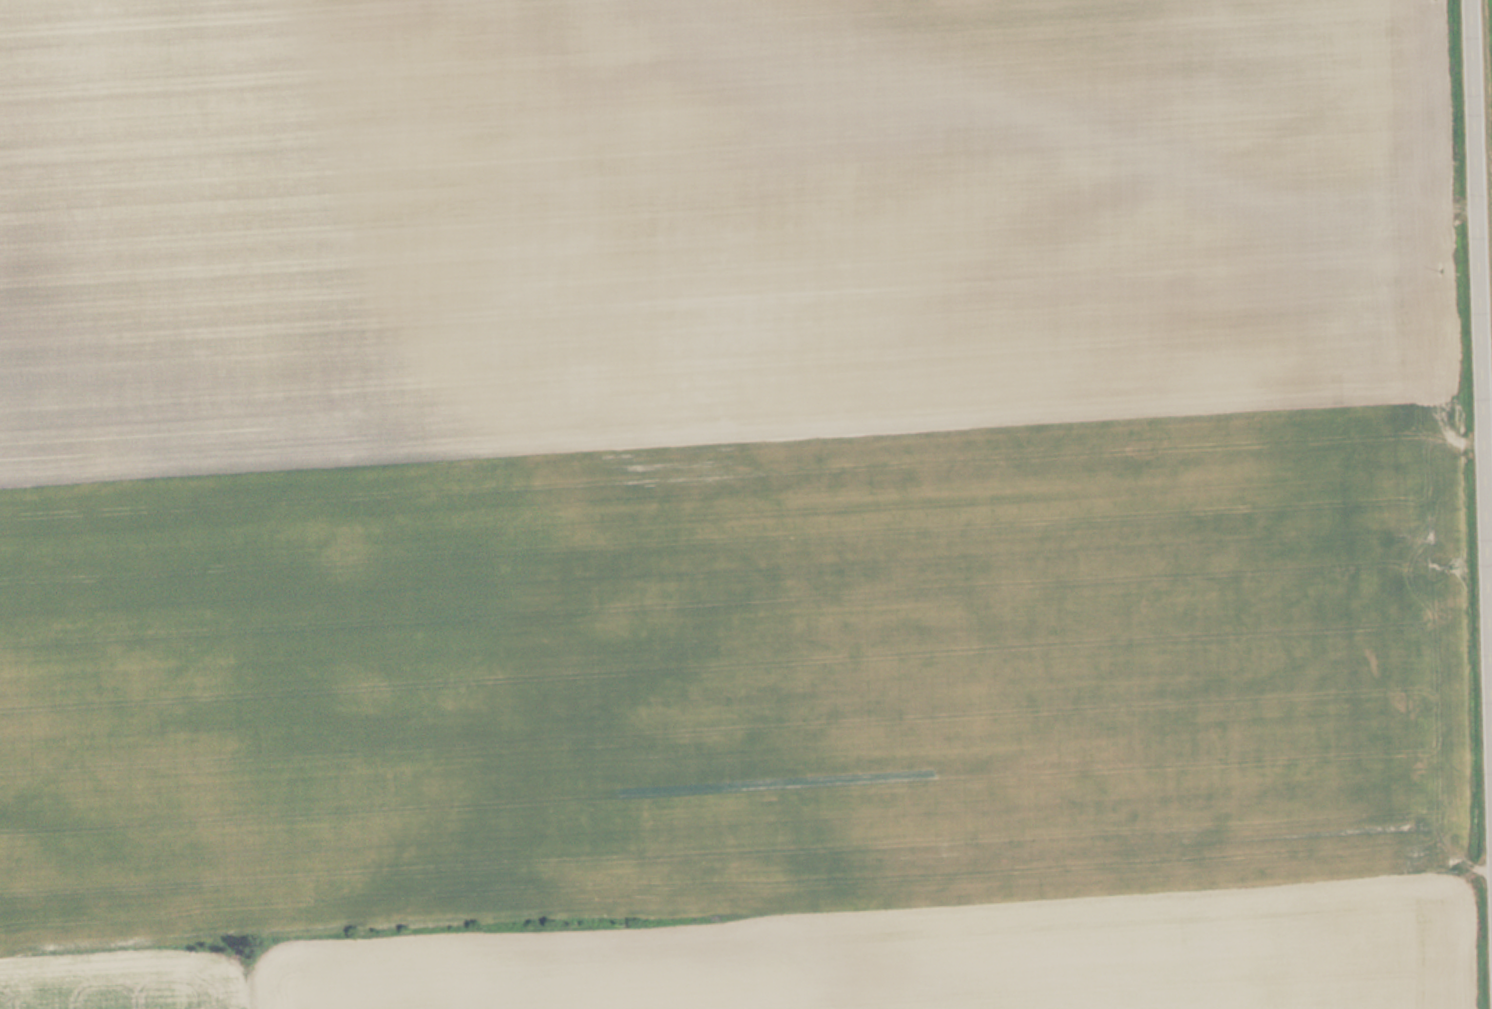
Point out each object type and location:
road: (1485, 213)

